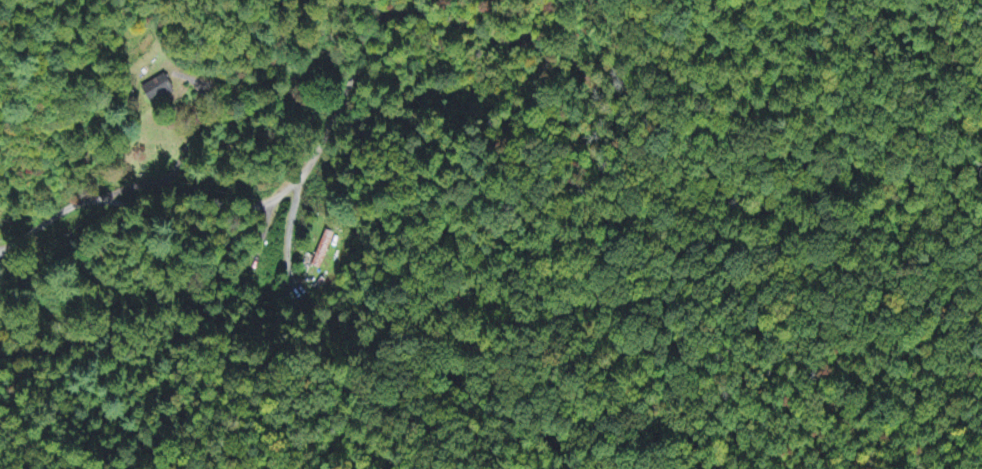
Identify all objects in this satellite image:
building: (156, 90)
road: (313, 160)

